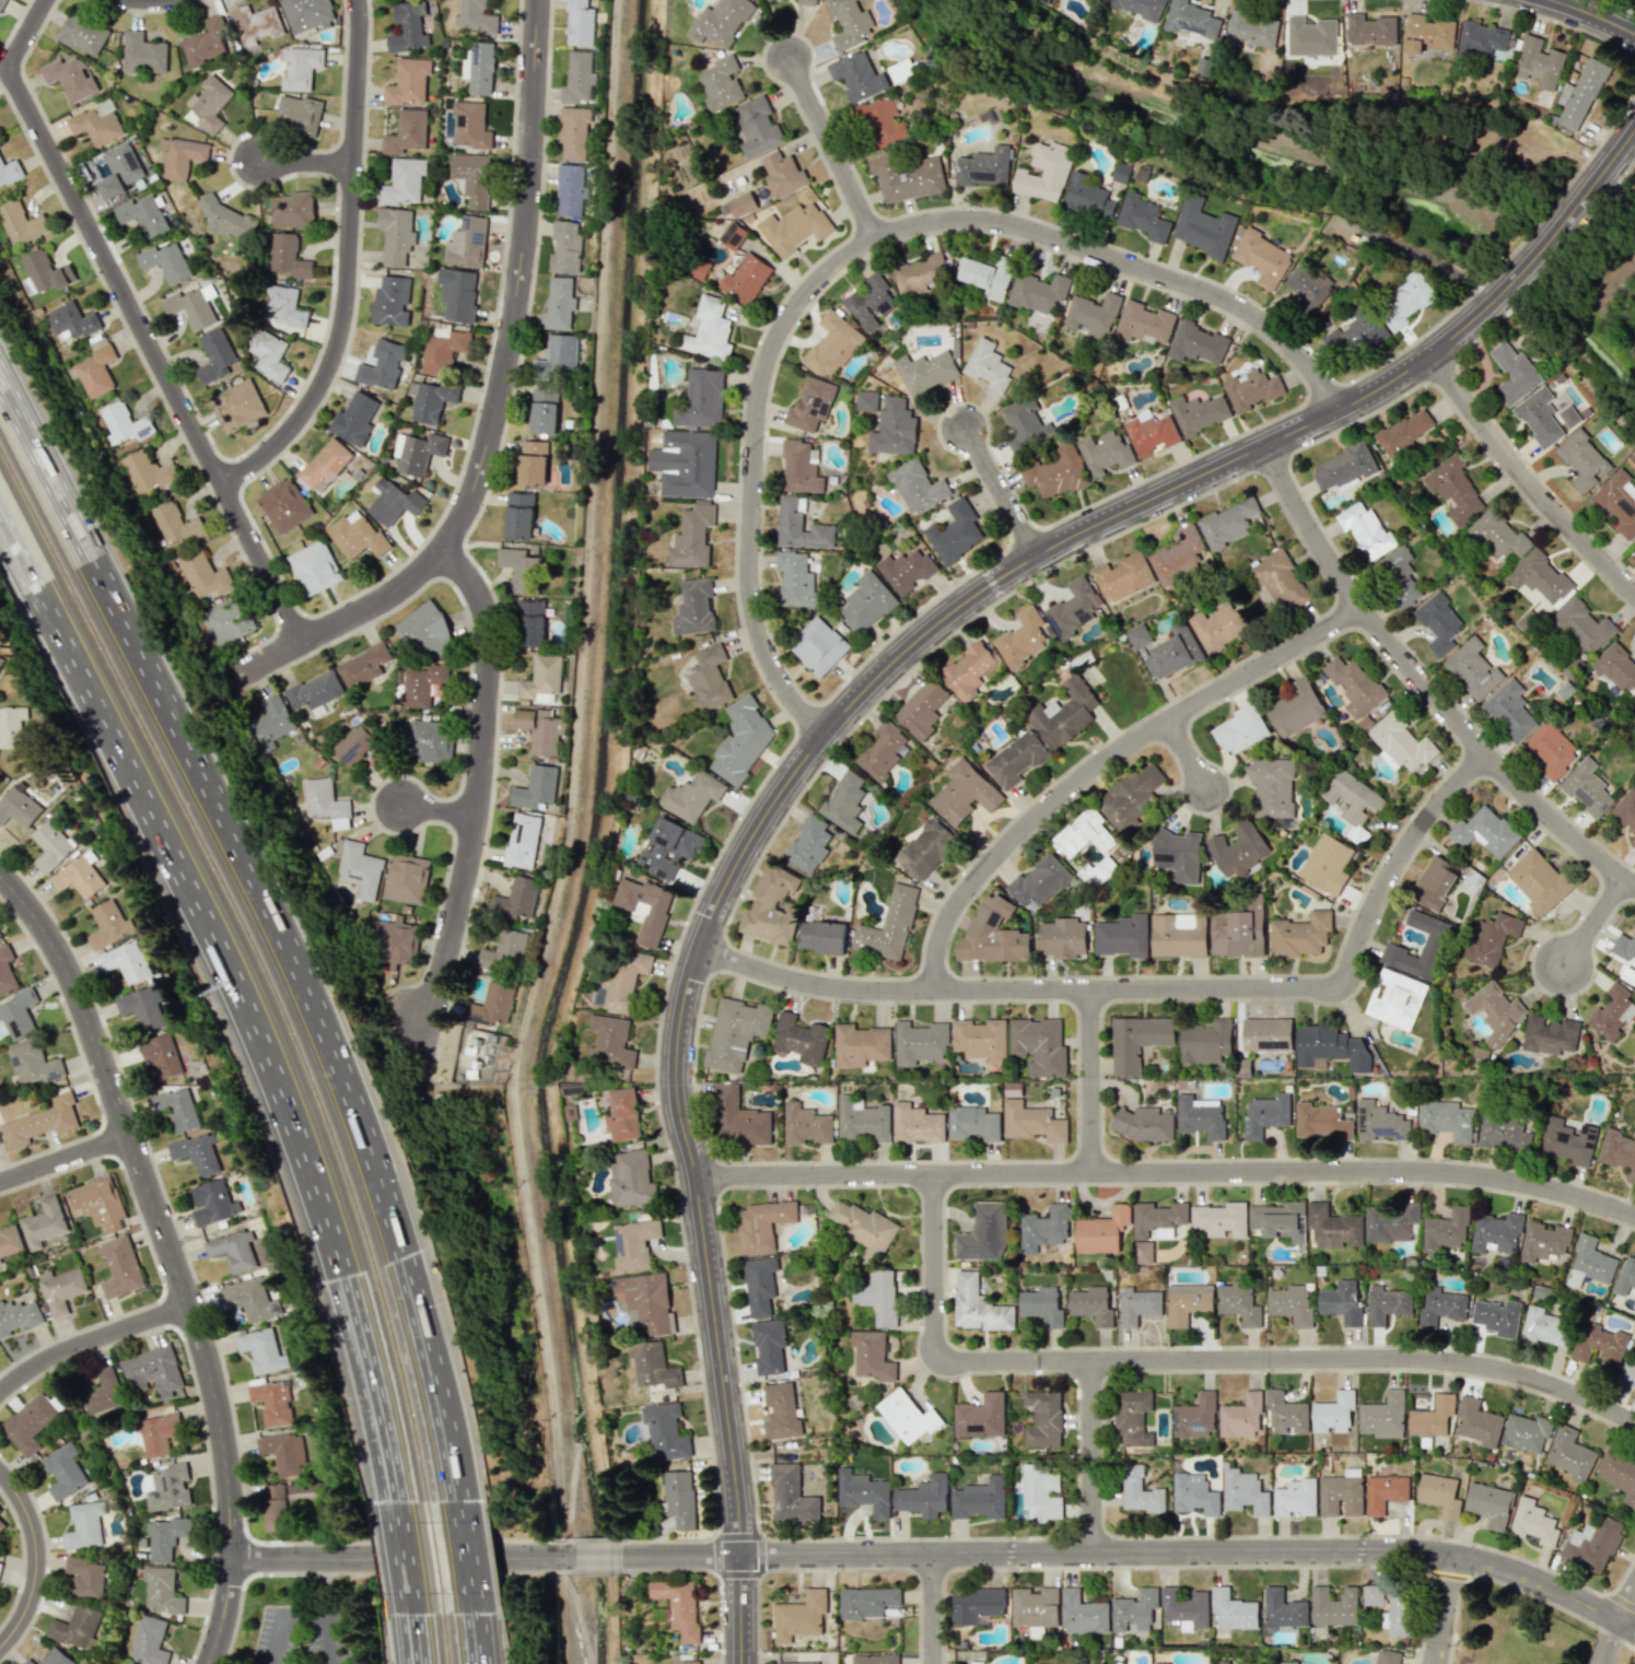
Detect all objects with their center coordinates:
road: (151, 0)
building: (807, 2)
building: (1, 3)
building: (1141, 8)
building: (306, 14)
road: (1597, 14)
building: (476, 16)
building: (1192, 21)
building: (720, 22)
building: (580, 23)
building: (849, 23)
building: (255, 24)
building: (407, 28)
building: (1253, 28)
building: (1370, 30)
building: (1427, 33)
building: (83, 34)
building: (1311, 36)
building: (1482, 39)
building: (205, 43)
building: (142, 52)
building: (1539, 63)
building: (300, 68)
building: (479, 68)
building: (857, 75)
building: (70, 77)
building: (579, 78)
building: (408, 81)
building: (721, 83)
building: (1579, 95)
building: (209, 103)
building: (299, 114)
building: (880, 122)
building: (96, 124)
building: (470, 125)
building: (758, 127)
building: (407, 132)
building: (573, 132)
road: (834, 147)
building: (180, 156)
road: (308, 162)
building: (984, 168)
building: (119, 171)
building: (9, 172)
building: (1121, 172)
building: (1046, 173)
building: (783, 174)
building: (906, 176)
building: (472, 178)
building: (404, 183)
building: (570, 190)
building: (1087, 197)
building: (743, 203)
building: (292, 210)
building: (141, 215)
building: (1143, 218)
building: (227, 220)
building: (20, 223)
building: (794, 227)
building: (1204, 228)
building: (396, 235)
building: (733, 235)
building: (466, 243)
building: (565, 247)
road: (861, 248)
road: (1421, 254)
building: (288, 256)
building: (1262, 258)
building: (165, 261)
road: (350, 266)
building: (45, 271)
building: (920, 274)
building: (985, 277)
building: (746, 279)
building: (1308, 289)
building: (1038, 292)
building: (457, 293)
building: (1405, 300)
building: (390, 301)
building: (871, 302)
building: (559, 304)
building: (284, 306)
building: (189, 307)
building: (1093, 314)
building: (71, 320)
road: (137, 320)
building: (1144, 324)
building: (710, 330)
building: (1358, 335)
building: (1196, 343)
building: (832, 344)
building: (443, 350)
building: (269, 354)
building: (214, 355)
building: (557, 359)
building: (382, 364)
building: (988, 365)
building: (95, 368)
building: (925, 372)
building: (1514, 372)
building: (1251, 389)
building: (703, 397)
building: (430, 400)
building: (867, 400)
building: (810, 403)
building: (237, 406)
road: (499, 407)
building: (545, 411)
building: (1199, 413)
building: (1539, 417)
building: (353, 419)
building: (1024, 422)
building: (124, 423)
building: (894, 429)
building: (1405, 432)
building: (1151, 434)
building: (418, 452)
building: (1105, 452)
building: (1583, 460)
building: (533, 462)
building: (686, 464)
building: (324, 465)
building: (1343, 467)
building: (799, 468)
building: (144, 471)
building: (1055, 472)
road: (1526, 480)
building: (916, 487)
building: (1455, 489)
road: (1003, 493)
building: (393, 502)
building: (1616, 502)
building: (283, 505)
building: (518, 515)
building: (1228, 523)
building: (175, 524)
building: (801, 526)
building: (1365, 529)
building: (955, 534)
building: (355, 535)
building: (1498, 535)
building: (692, 537)
building: (1634, 544)
building: (1179, 556)
building: (314, 567)
building: (519, 569)
building: (906, 570)
building: (202, 574)
building: (1399, 575)
building: (1539, 576)
building: (1123, 577)
building: (795, 579)
building: (1280, 581)
building: (1529, 594)
building: (866, 602)
building: (694, 607)
building: (1073, 608)
building: (226, 620)
building: (530, 622)
building: (1439, 623)
building: (1219, 626)
building: (1581, 626)
building: (428, 632)
building: (1138, 635)
building: (1021, 638)
building: (818, 646)
building: (1176, 652)
building: (2, 663)
building: (364, 665)
building: (1473, 668)
building: (1615, 668)
building: (968, 669)
road: (884, 673)
building: (709, 678)
building: (540, 680)
building: (422, 685)
building: (1354, 685)
road: (1423, 688)
building: (315, 690)
building: (922, 708)
building: (1295, 708)
building: (1509, 711)
building: (1064, 713)
building: (270, 723)
building: (11, 726)
building: (538, 729)
building: (1240, 730)
building: (741, 740)
building: (428, 741)
building: (357, 742)
building: (1400, 742)
building: (1551, 750)
building: (881, 751)
road: (1189, 757)
building: (1016, 760)
road: (1107, 762)
building: (1272, 786)
building: (535, 788)
building: (1587, 788)
building: (965, 793)
road: (476, 796)
building: (693, 796)
building: (1352, 796)
building: (1131, 797)
building: (325, 802)
building: (844, 802)
building: (17, 806)
building: (1626, 810)
road: (439, 812)
building: (1485, 831)
building: (1084, 833)
building: (522, 841)
building: (1632, 842)
building: (808, 844)
building: (49, 846)
building: (668, 847)
building: (926, 848)
building: (1239, 848)
building: (1178, 855)
building: (1328, 864)
building: (359, 869)
building: (1097, 872)
building: (78, 878)
building: (406, 878)
building: (1040, 881)
building: (1538, 881)
building: (1434, 883)
building: (516, 899)
building: (771, 906)
building: (644, 907)
road: (1596, 922)
building: (109, 924)
building: (889, 926)
building: (1239, 929)
road: (272, 933)
building: (992, 934)
building: (0, 935)
building: (1179, 935)
building: (1300, 935)
building: (1123, 936)
building: (824, 937)
building: (1063, 938)
building: (1491, 938)
building: (394, 941)
building: (1623, 947)
building: (1393, 948)
building: (503, 953)
building: (125, 961)
building: (5, 970)
building: (622, 979)
road: (1156, 988)
road: (243, 996)
building: (1395, 998)
road: (416, 1004)
building: (491, 1005)
building: (141, 1007)
building: (1611, 1010)
building: (1495, 1011)
building: (17, 1013)
building: (735, 1032)
building: (1550, 1034)
building: (1268, 1035)
building: (801, 1039)
building: (981, 1039)
building: (1137, 1041)
building: (610, 1042)
building: (920, 1042)
building: (1206, 1042)
building: (861, 1045)
building: (1039, 1045)
building: (1330, 1046)
building: (160, 1056)
building: (33, 1064)
road: (1093, 1081)
building: (1012, 1089)
building: (177, 1108)
building: (1265, 1114)
building: (622, 1115)
building: (739, 1118)
building: (1199, 1118)
building: (862, 1120)
building: (1446, 1120)
building: (42, 1122)
building: (1031, 1122)
building: (1321, 1122)
building: (1380, 1122)
building: (972, 1123)
building: (1143, 1123)
building: (806, 1124)
building: (916, 1124)
building: (1503, 1134)
building: (1567, 1141)
building: (1618, 1150)
building: (196, 1153)
road: (65, 1158)
road: (1168, 1173)
building: (631, 1179)
building: (98, 1203)
building: (211, 1203)
road: (153, 1205)
building: (1157, 1219)
building: (1221, 1219)
building: (1280, 1220)
building: (1391, 1222)
building: (45, 1223)
building: (761, 1224)
building: (863, 1226)
building: (1333, 1227)
building: (1044, 1228)
building: (1445, 1230)
building: (1101, 1231)
building: (1496, 1232)
building: (983, 1233)
building: (10, 1241)
building: (1544, 1241)
building: (633, 1242)
building: (233, 1251)
building: (1143, 1252)
building: (1589, 1262)
building: (0, 1263)
building: (119, 1267)
building: (1625, 1276)
building: (759, 1284)
building: (60, 1289)
building: (878, 1297)
building: (250, 1298)
building: (646, 1301)
building: (1187, 1302)
building: (1238, 1302)
building: (1341, 1302)
building: (1291, 1303)
building: (1387, 1303)
building: (1041, 1304)
building: (1091, 1304)
building: (978, 1305)
building: (1137, 1305)
building: (1441, 1306)
building: (19, 1315)
building: (1497, 1316)
building: (1543, 1327)
road: (91, 1341)
building: (1599, 1343)
building: (768, 1346)
building: (260, 1350)
building: (873, 1356)
road: (1196, 1361)
building: (652, 1364)
building: (152, 1371)
building: (1627, 1372)
building: (104, 1393)
building: (781, 1411)
building: (1285, 1413)
building: (1333, 1413)
building: (908, 1416)
building: (981, 1416)
building: (1195, 1416)
building: (1382, 1416)
building: (1241, 1417)
building: (1432, 1417)
building: (1132, 1418)
building: (1043, 1419)
building: (1478, 1422)
building: (28, 1423)
building: (665, 1431)
building: (1526, 1432)
building: (157, 1433)
building: (282, 1452)
building: (1570, 1454)
road: (1094, 1457)
building: (63, 1472)
building: (1619, 1474)
building: (168, 1487)
building: (1041, 1490)
building: (302, 1491)
building: (1140, 1491)
building: (1243, 1491)
building: (864, 1492)
building: (1383, 1492)
building: (1194, 1493)
building: (1341, 1493)
building: (791, 1495)
building: (1439, 1495)
building: (923, 1497)
building: (679, 1498)
building: (1295, 1498)
building: (980, 1499)
building: (1490, 1504)
building: (272, 1507)
building: (0, 1511)
building: (1, 1522)
building: (1533, 1522)
building: (84, 1525)
building: (167, 1537)
building: (1592, 1544)
road: (1194, 1551)
road: (464, 1552)
road: (486, 1555)
road: (408, 1559)
road: (37, 1560)
building: (86, 1577)
road: (323, 1586)
building: (162, 1590)
building: (1373, 1594)
road: (1622, 1596)
building: (867, 1602)
building: (976, 1604)
building: (678, 1606)
building: (1035, 1606)
building: (1333, 1606)
road: (739, 1607)
road: (929, 1608)
building: (1283, 1608)
building: (1184, 1609)
road: (1443, 1609)
building: (1134, 1610)
building: (1231, 1610)
road: (225, 1612)
building: (1083, 1613)
road: (302, 1615)
building: (1398, 1615)
building: (799, 1616)
building: (75, 1627)
park: (1514, 1627)
road: (472, 1629)
road: (413, 1636)
road: (418, 1636)
building: (149, 1641)
road: (1608, 1642)
building: (1387, 1656)
building: (56, 1657)
building: (875, 1659)
building: (28, 1662)
building: (690, 1662)
building: (1221, 1662)
building: (1287, 1662)
building: (131, 1663)
building: (1112, 1663)
building: (1160, 1663)

